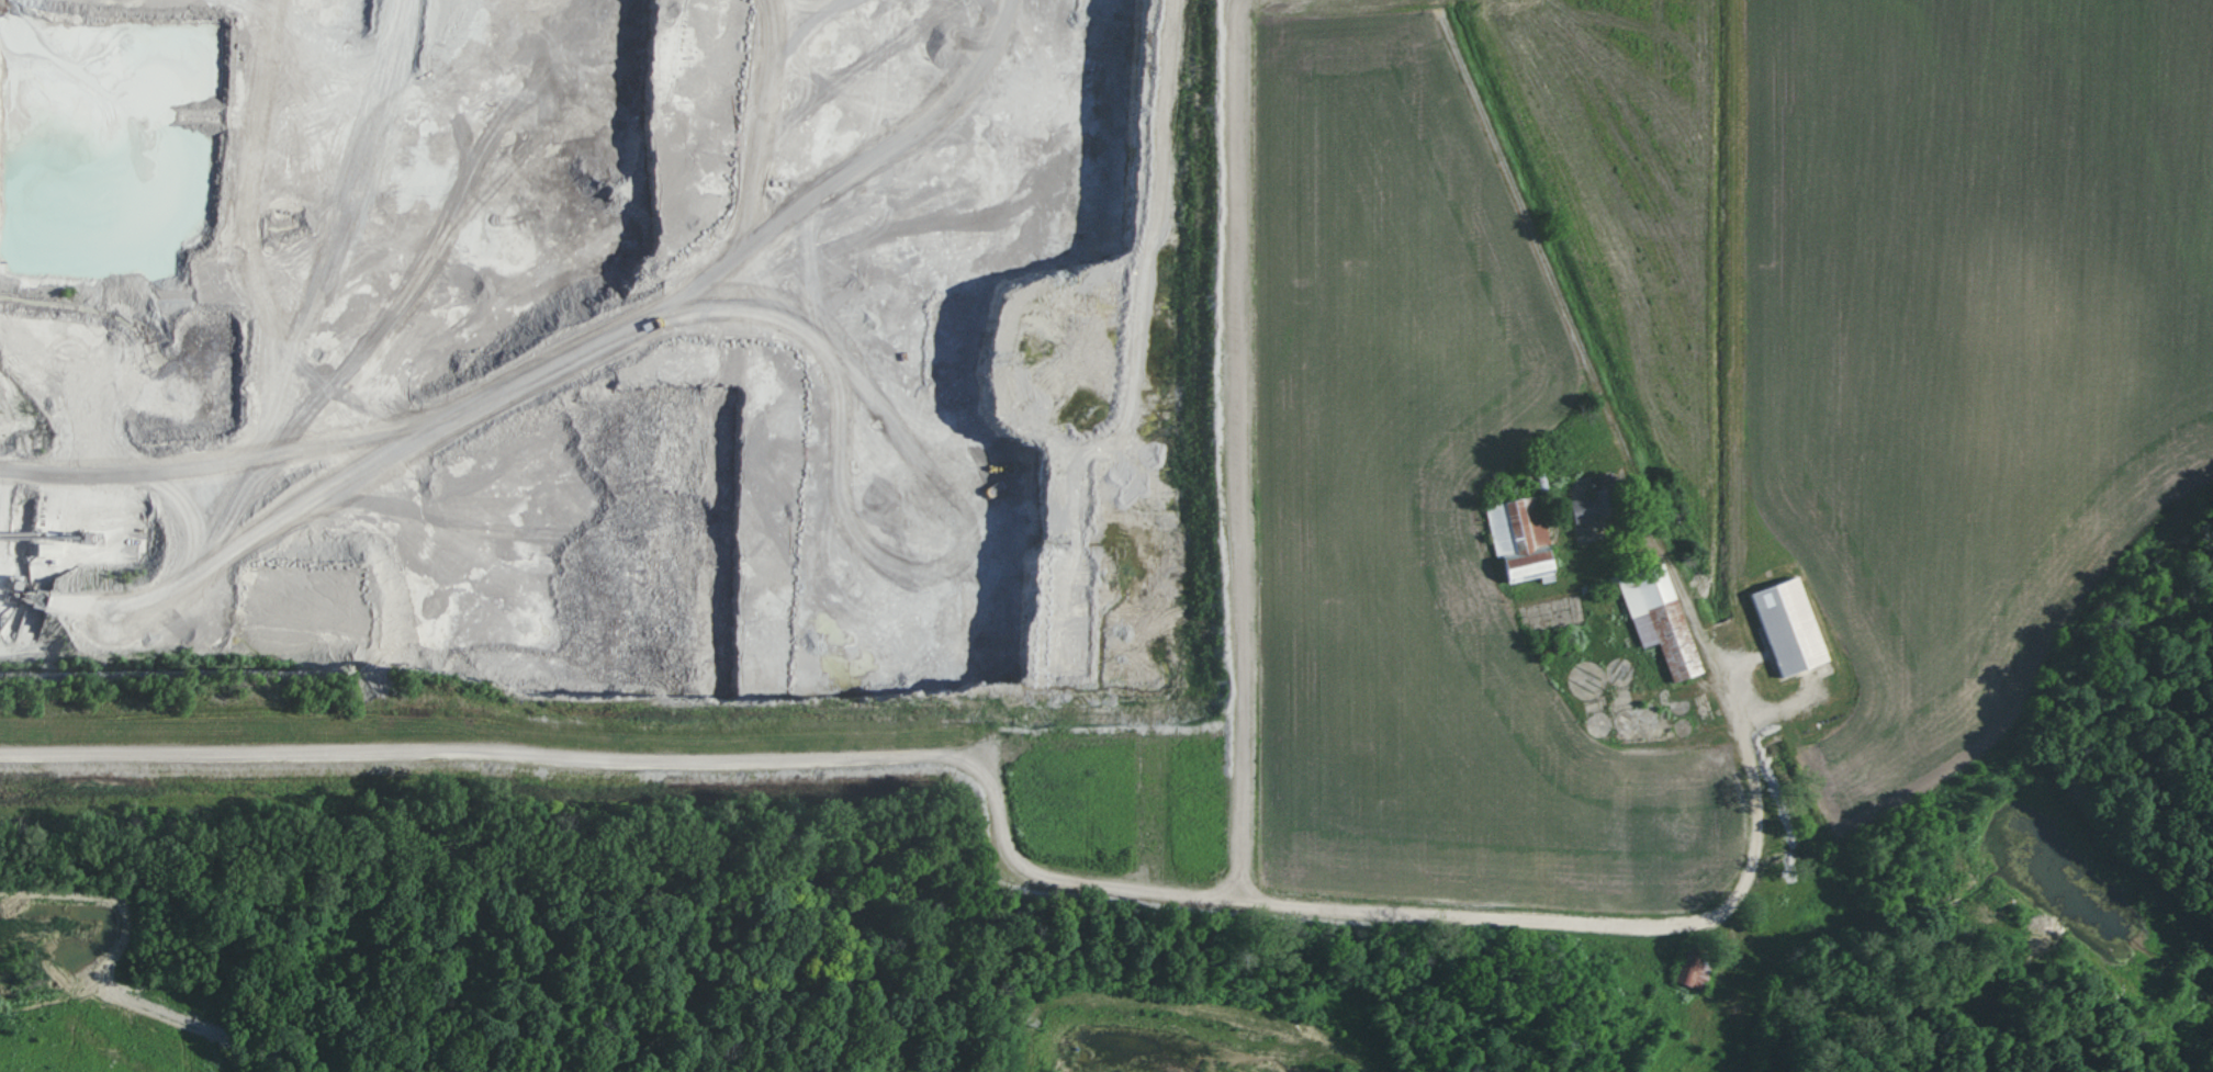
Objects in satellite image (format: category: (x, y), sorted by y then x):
road: (1591, 373)
quarry: (471, 381)
building: (1593, 507)
building: (1524, 537)
building: (1665, 624)
building: (1794, 628)

